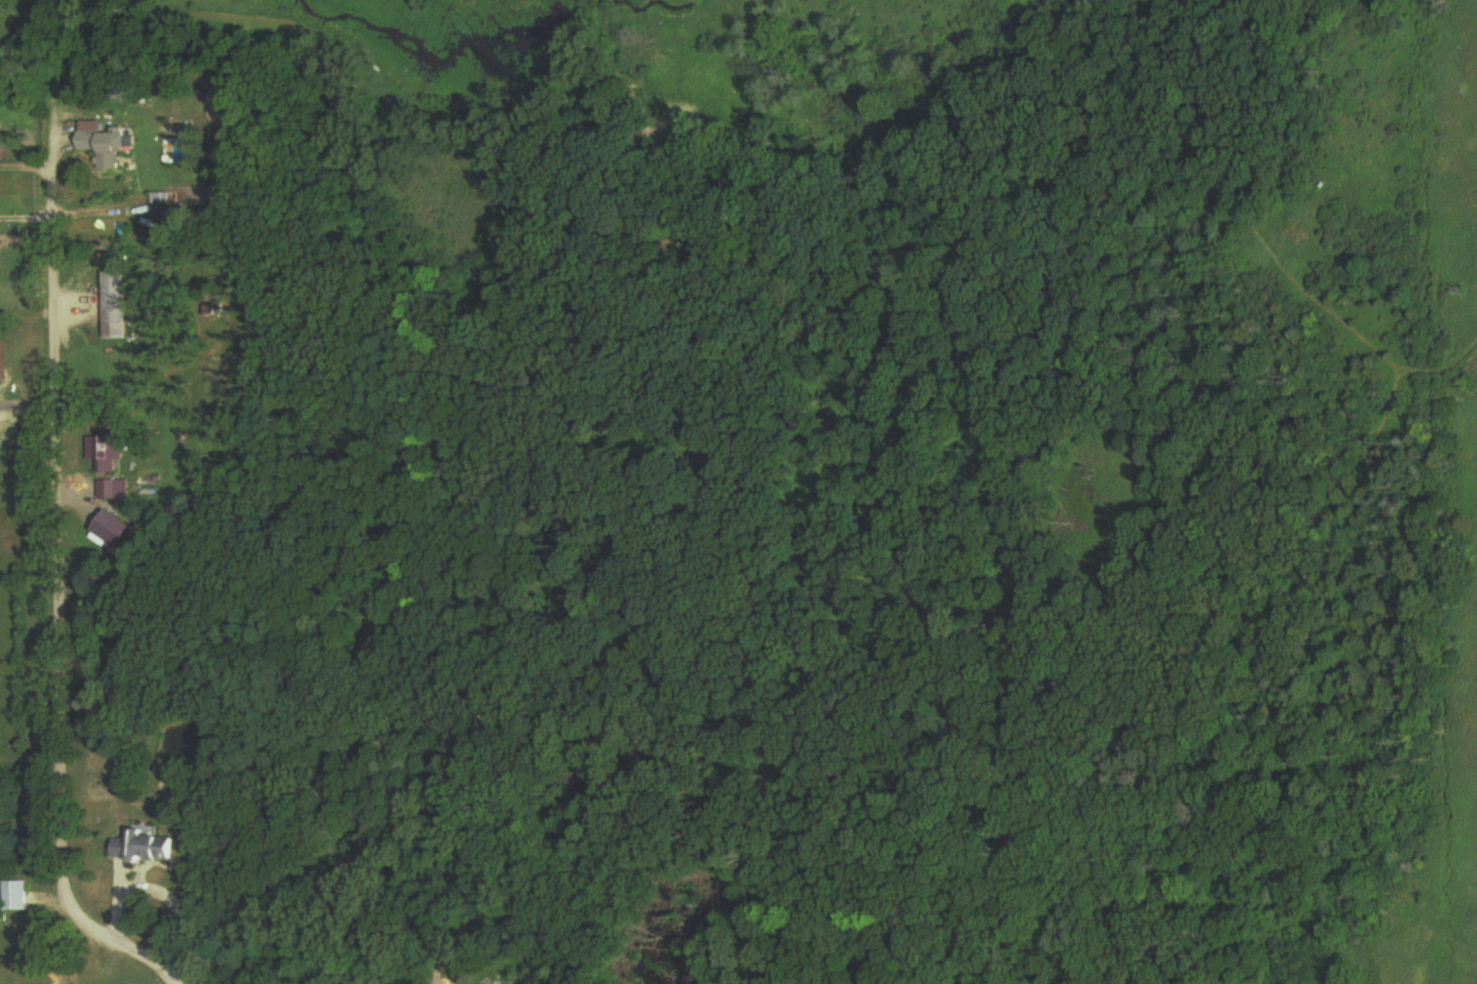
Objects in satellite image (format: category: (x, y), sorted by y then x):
building: (105, 138)
road: (30, 221)
building: (117, 306)
building: (4, 361)
building: (100, 449)
building: (148, 476)
building: (110, 489)
road: (62, 574)
building: (147, 847)
road: (114, 894)
building: (17, 897)
road: (168, 900)
road: (438, 968)

